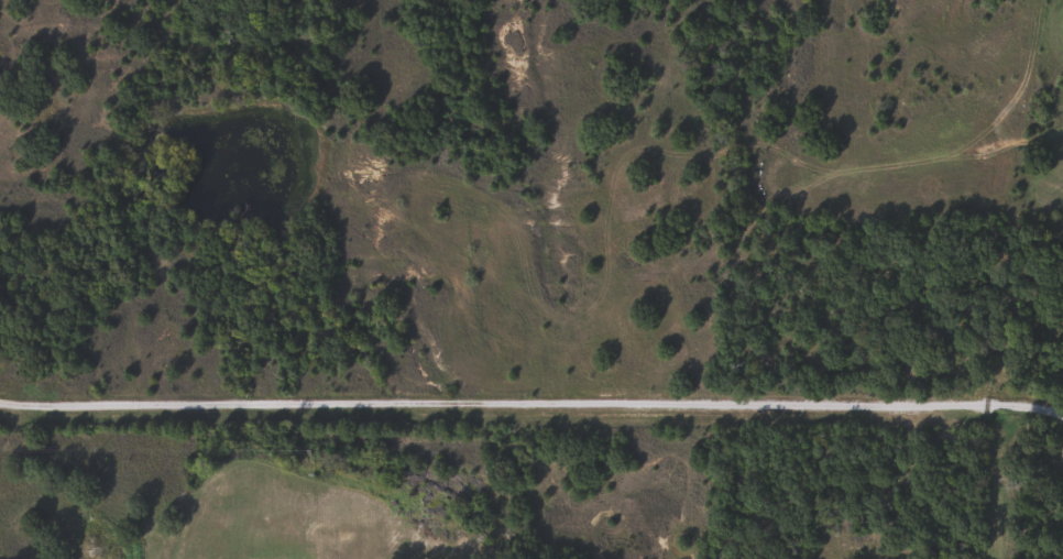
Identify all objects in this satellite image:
road: (531, 402)

